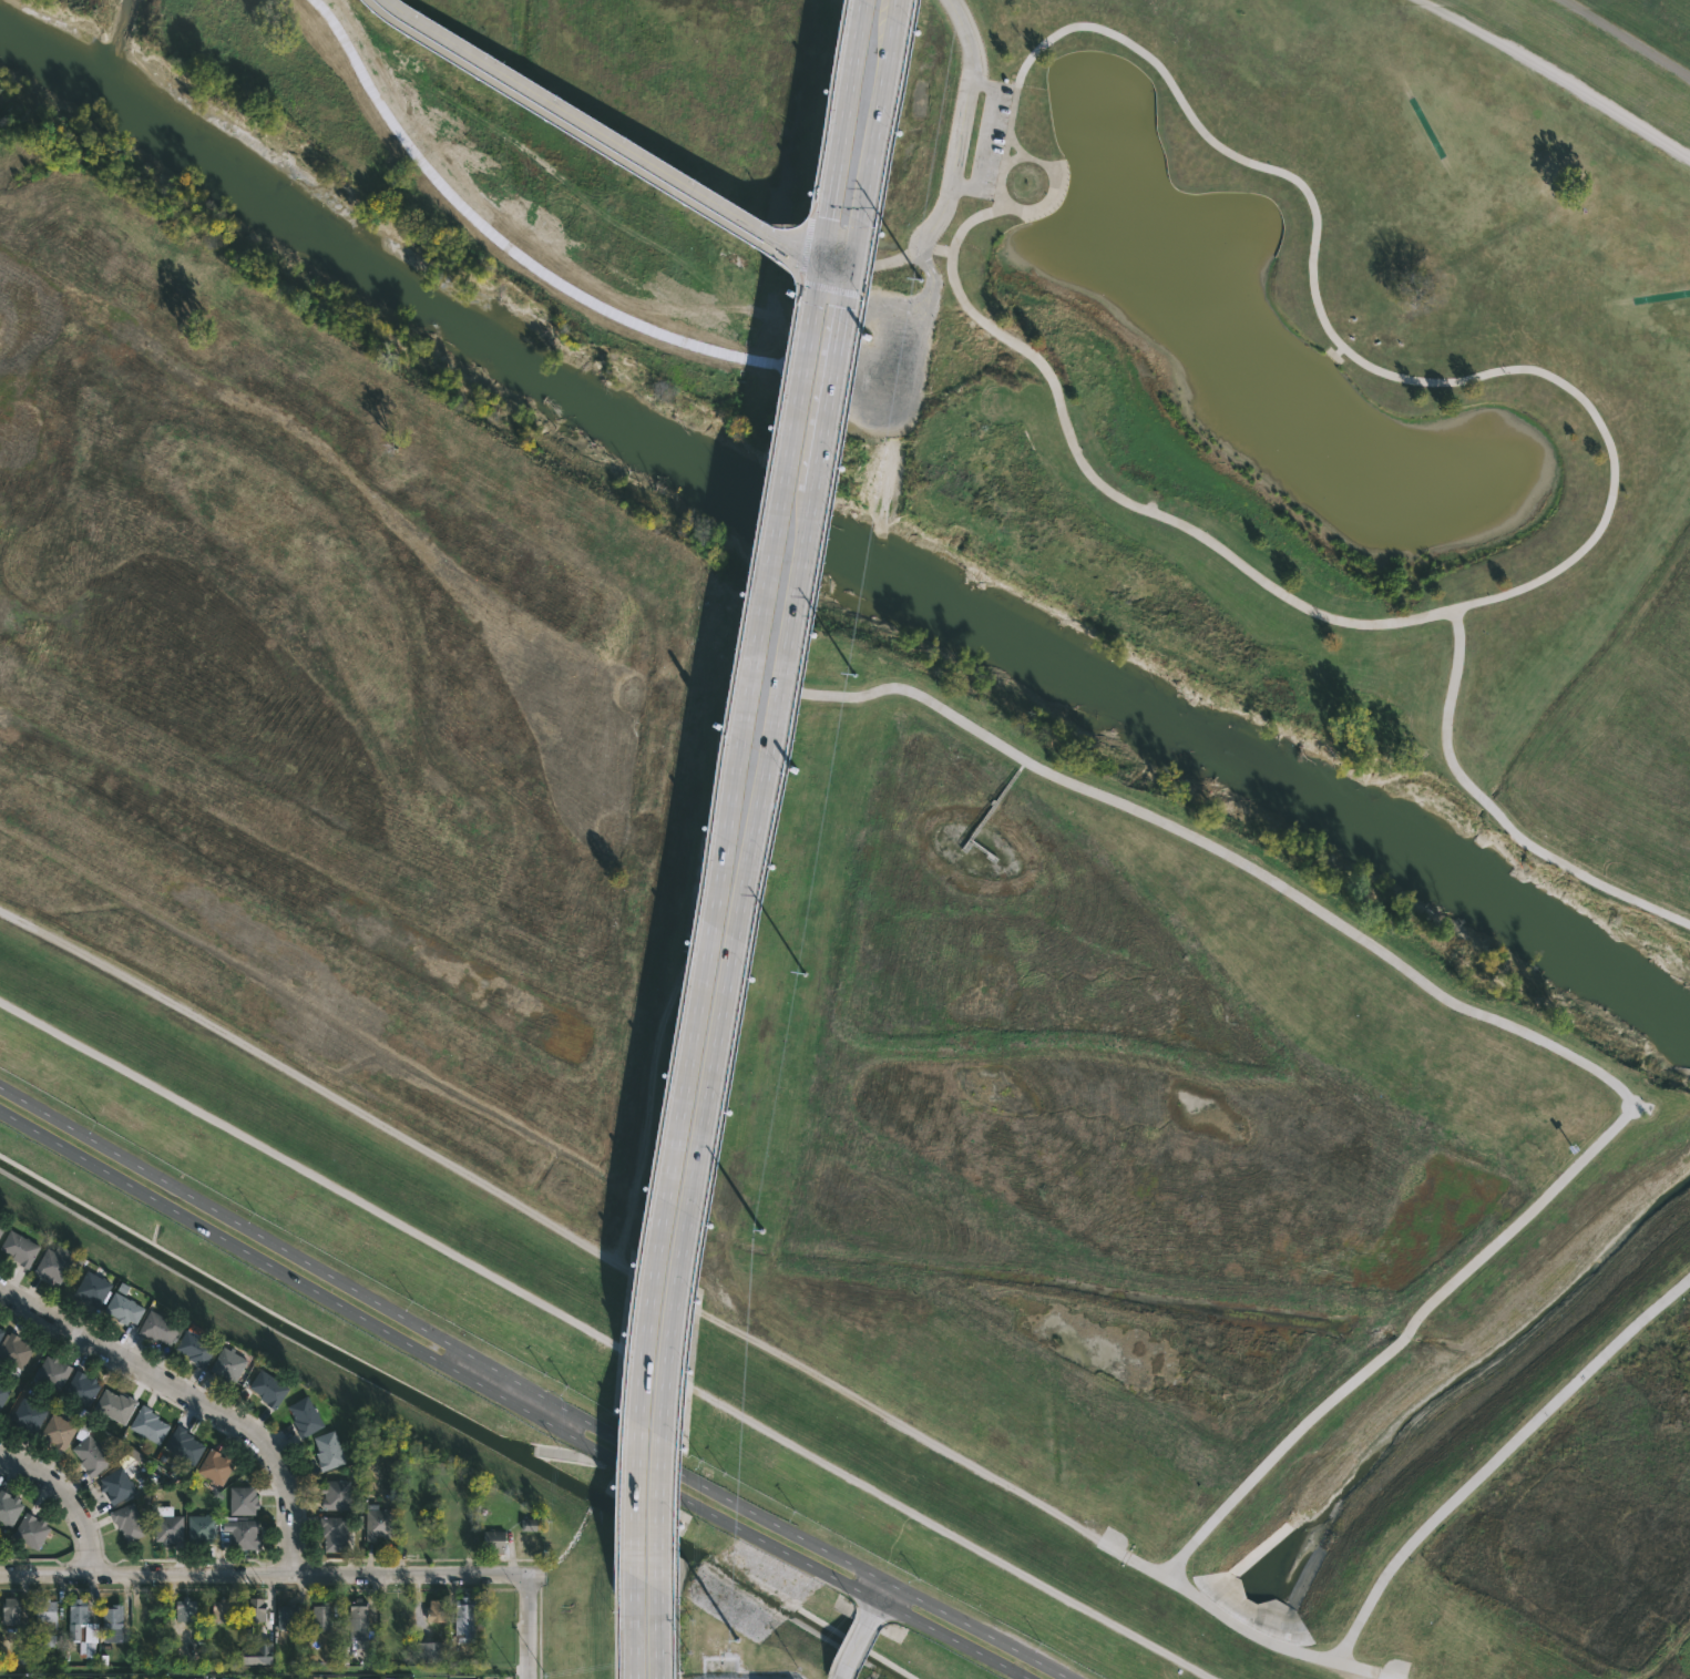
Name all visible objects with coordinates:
road: (966, 39)
road: (1625, 40)
road: (982, 57)
road: (1550, 84)
road: (828, 99)
road: (843, 127)
road: (873, 132)
road: (983, 135)
parking lot: (989, 140)
road: (582, 141)
road: (608, 145)
road: (959, 162)
road: (811, 205)
road: (803, 247)
traffic signals: (823, 257)
road: (905, 259)
traffic signals: (851, 264)
road: (933, 276)
power tower: (918, 278)
road: (831, 290)
road: (1020, 331)
road: (1018, 337)
road: (1340, 351)
road: (1334, 357)
parking lot: (887, 362)
road: (1583, 402)
river: (831, 531)
power tower: (852, 674)
park: (911, 749)
road: (1493, 816)
road: (774, 837)
road: (716, 909)
road: (741, 912)
road: (692, 934)
road: (694, 956)
power tower: (802, 974)
road: (1510, 1026)
road: (549, 1224)
building: (2, 1228)
power tower: (761, 1230)
building: (21, 1248)
building: (57, 1263)
road: (319, 1271)
building: (94, 1288)
building: (126, 1309)
building: (162, 1328)
building: (1, 1332)
road: (606, 1339)
building: (197, 1348)
building: (16, 1350)
building: (235, 1363)
building: (54, 1372)
river: (1457, 1372)
building: (83, 1389)
building: (270, 1389)
road: (514, 1393)
building: (3, 1394)
road: (195, 1402)
road: (510, 1402)
building: (116, 1405)
building: (29, 1414)
building: (307, 1416)
building: (150, 1425)
building: (59, 1431)
building: (185, 1445)
building: (330, 1451)
building: (92, 1455)
road: (1496, 1455)
building: (217, 1466)
road: (29, 1468)
building: (117, 1485)
building: (337, 1495)
building: (245, 1501)
building: (10, 1508)
building: (130, 1522)
road: (91, 1523)
building: (529, 1524)
building: (380, 1525)
building: (168, 1526)
building: (204, 1528)
building: (32, 1530)
building: (337, 1532)
building: (239, 1537)
building: (496, 1542)
road: (853, 1565)
road: (263, 1575)
building: (254, 1609)
building: (186, 1610)
building: (436, 1610)
building: (12, 1611)
building: (223, 1611)
building: (360, 1616)
building: (114, 1617)
building: (322, 1617)
building: (288, 1618)
building: (465, 1620)
road: (635, 1621)
road: (659, 1621)
building: (47, 1622)
road: (1239, 1626)
road: (526, 1627)
building: (83, 1628)
road: (863, 1630)
road: (616, 1635)
power tower: (735, 1639)
building: (431, 1651)
building: (258, 1652)
road: (1344, 1670)
power substation: (742, 1677)
building: (188, 1678)

